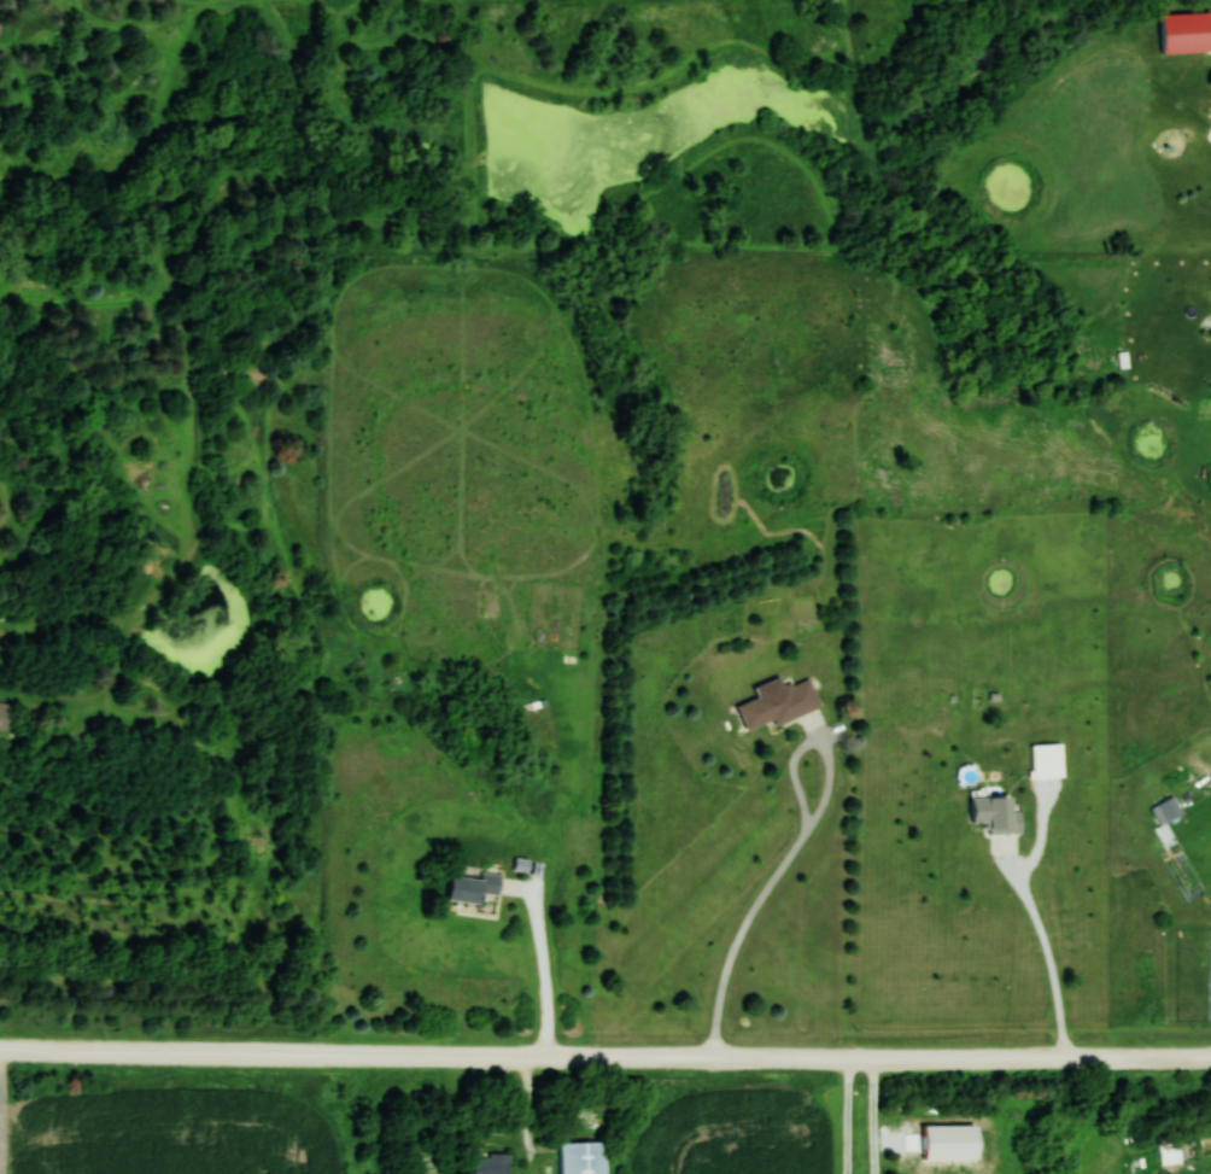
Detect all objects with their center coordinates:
building: (1188, 34)
building: (782, 703)
building: (5, 716)
building: (1171, 807)
building: (995, 812)
building: (472, 884)
road: (605, 1058)
building: (1171, 1153)
building: (584, 1157)
building: (492, 1163)

